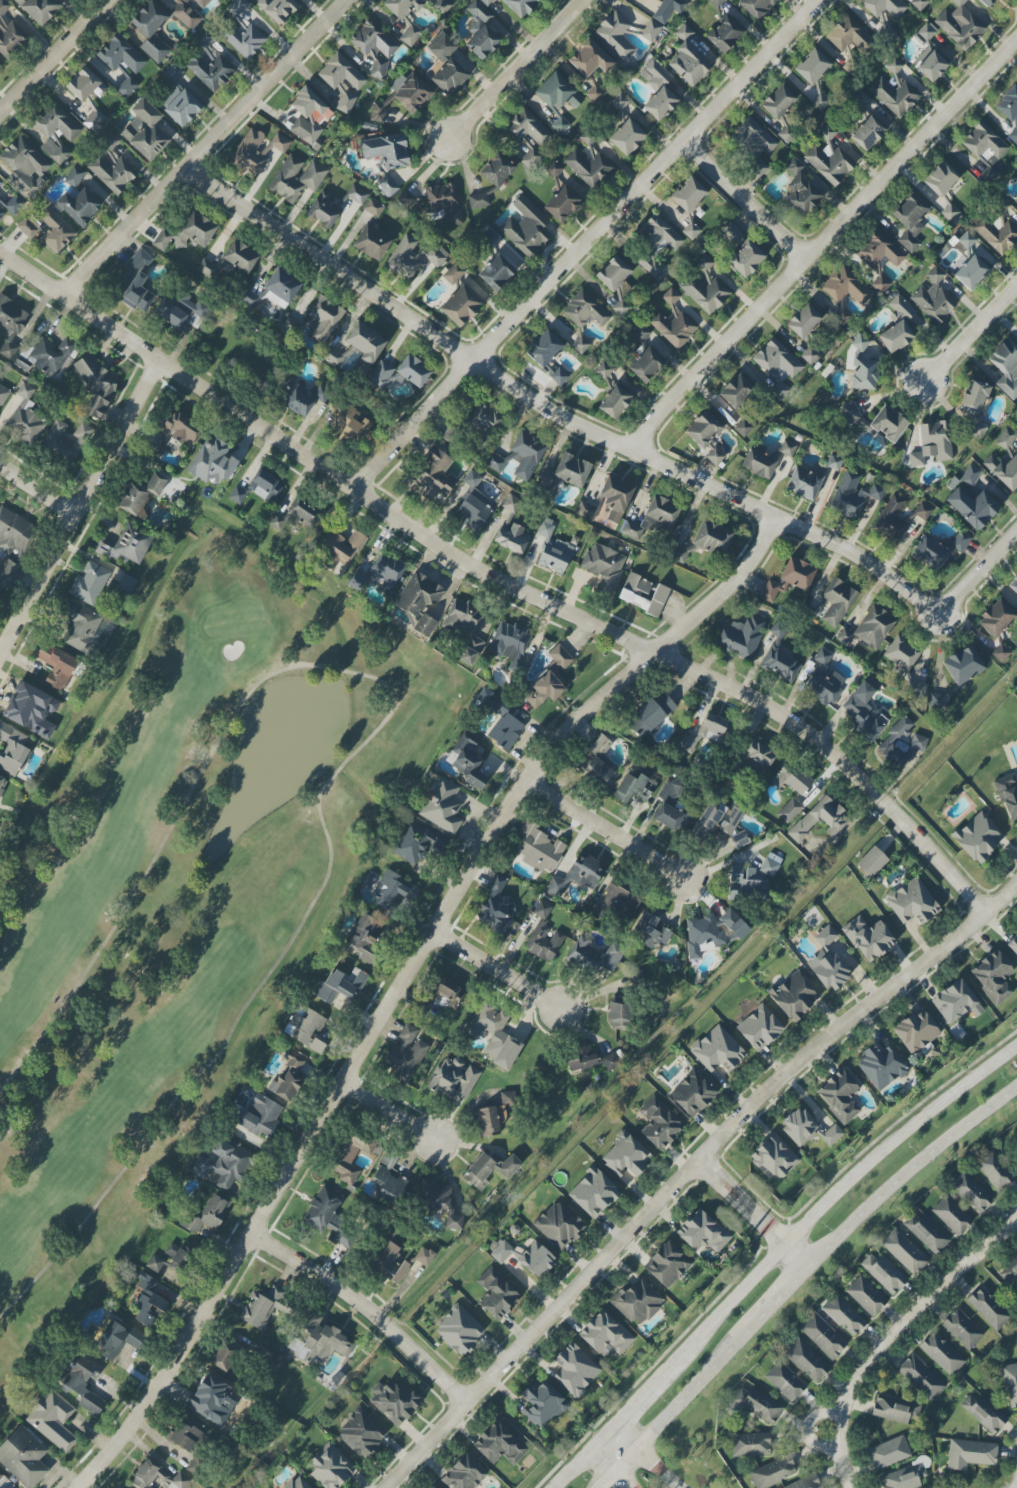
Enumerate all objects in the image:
building: (486, 2)
building: (716, 3)
building: (919, 3)
building: (442, 5)
building: (520, 6)
building: (755, 7)
building: (884, 7)
building: (39, 9)
building: (278, 9)
building: (404, 9)
building: (670, 9)
building: (189, 12)
road: (91, 18)
building: (960, 25)
building: (151, 31)
building: (241, 31)
building: (481, 31)
building: (651, 31)
building: (926, 32)
building: (9, 33)
building: (724, 33)
building: (411, 35)
building: (615, 35)
building: (848, 36)
building: (204, 39)
building: (375, 46)
building: (121, 55)
building: (590, 59)
building: (688, 59)
building: (0, 65)
building: (445, 65)
building: (932, 66)
building: (812, 67)
road: (518, 69)
building: (210, 71)
building: (340, 73)
road: (36, 74)
building: (172, 74)
building: (85, 85)
building: (127, 87)
building: (658, 90)
building: (895, 90)
building: (595, 94)
building: (403, 98)
building: (860, 100)
building: (345, 101)
building: (620, 102)
building: (778, 102)
building: (819, 102)
building: (1008, 106)
building: (183, 108)
building: (307, 116)
building: (94, 120)
building: (526, 128)
building: (145, 131)
building: (56, 132)
building: (868, 133)
building: (627, 137)
building: (280, 143)
building: (752, 143)
road: (205, 147)
building: (985, 149)
building: (387, 150)
building: (249, 154)
building: (829, 158)
building: (531, 159)
building: (588, 165)
building: (25, 167)
building: (112, 167)
building: (497, 169)
building: (554, 169)
building: (313, 174)
building: (74, 177)
building: (941, 179)
building: (386, 185)
building: (800, 190)
building: (357, 194)
building: (689, 195)
building: (478, 200)
building: (444, 202)
road: (744, 202)
building: (13, 204)
building: (562, 204)
building: (79, 206)
building: (373, 207)
building: (323, 210)
building: (1, 213)
building: (952, 214)
building: (910, 222)
building: (526, 227)
building: (47, 229)
building: (691, 231)
building: (186, 233)
building: (730, 233)
building: (486, 236)
building: (997, 236)
building: (966, 240)
road: (824, 241)
building: (371, 243)
building: (655, 243)
road: (584, 244)
building: (240, 257)
building: (432, 258)
building: (746, 259)
building: (453, 273)
building: (496, 273)
building: (613, 273)
building: (971, 273)
building: (138, 282)
building: (705, 286)
building: (282, 287)
building: (846, 287)
building: (934, 298)
building: (248, 299)
building: (621, 305)
building: (461, 306)
building: (180, 311)
building: (841, 316)
building: (324, 319)
building: (803, 321)
building: (673, 322)
building: (897, 325)
building: (290, 329)
road: (972, 332)
building: (641, 333)
building: (860, 344)
building: (365, 345)
building: (547, 355)
building: (50, 357)
building: (332, 357)
building: (645, 365)
building: (777, 366)
building: (1006, 368)
building: (603, 370)
building: (399, 374)
building: (97, 386)
building: (736, 391)
building: (3, 394)
building: (321, 394)
building: (974, 396)
building: (297, 400)
building: (614, 402)
road: (553, 410)
building: (25, 418)
building: (485, 422)
building: (878, 422)
building: (350, 424)
building: (179, 428)
building: (743, 428)
building: (703, 430)
building: (977, 431)
building: (1006, 438)
building: (64, 443)
building: (932, 444)
building: (788, 449)
building: (526, 455)
building: (715, 457)
building: (212, 463)
building: (759, 463)
building: (1003, 471)
building: (563, 474)
building: (970, 476)
building: (436, 477)
building: (810, 479)
building: (265, 486)
road: (37, 491)
building: (853, 495)
building: (141, 496)
building: (614, 498)
building: (473, 504)
building: (972, 507)
road: (77, 510)
building: (586, 511)
building: (301, 515)
building: (653, 518)
building: (898, 519)
building: (510, 530)
building: (13, 532)
building: (712, 538)
building: (960, 542)
building: (125, 546)
building: (343, 547)
building: (553, 548)
road: (440, 549)
building: (929, 553)
building: (677, 554)
building: (604, 566)
road: (982, 568)
building: (386, 571)
building: (7, 573)
building: (789, 579)
building: (89, 583)
building: (127, 584)
building: (1013, 585)
building: (643, 594)
building: (419, 602)
building: (836, 602)
building: (1016, 608)
building: (996, 619)
building: (79, 625)
building: (464, 629)
building: (869, 629)
building: (778, 630)
building: (741, 636)
building: (509, 642)
building: (1001, 653)
building: (901, 654)
building: (780, 665)
building: (963, 665)
building: (56, 666)
building: (516, 667)
building: (550, 679)
building: (824, 679)
building: (915, 690)
building: (938, 701)
building: (864, 711)
building: (650, 714)
building: (503, 718)
building: (715, 727)
building: (903, 742)
building: (687, 745)
building: (13, 750)
road: (359, 751)
building: (756, 756)
building: (467, 761)
building: (599, 762)
building: (791, 779)
building: (2, 784)
building: (634, 784)
building: (1008, 796)
building: (442, 806)
building: (672, 808)
building: (789, 810)
building: (819, 819)
building: (716, 820)
road: (604, 829)
building: (978, 837)
building: (739, 839)
building: (416, 842)
building: (538, 848)
building: (871, 862)
road: (941, 862)
building: (771, 864)
building: (577, 876)
building: (747, 883)
park: (183, 886)
building: (394, 891)
building: (619, 900)
building: (912, 902)
building: (495, 906)
building: (542, 910)
building: (734, 924)
building: (650, 930)
building: (703, 936)
building: (363, 938)
building: (868, 938)
building: (544, 941)
building: (1013, 943)
building: (594, 956)
building: (828, 961)
road: (497, 971)
building: (993, 977)
road: (401, 981)
building: (340, 985)
building: (443, 994)
building: (795, 996)
building: (956, 1002)
building: (619, 1013)
building: (759, 1028)
building: (306, 1030)
building: (916, 1032)
building: (495, 1036)
building: (717, 1050)
building: (405, 1055)
building: (580, 1059)
building: (609, 1062)
building: (881, 1066)
building: (288, 1078)
building: (454, 1079)
building: (692, 1094)
building: (839, 1096)
road: (386, 1112)
building: (261, 1116)
building: (490, 1120)
building: (658, 1123)
building: (807, 1129)
building: (626, 1156)
building: (350, 1157)
building: (773, 1158)
building: (224, 1163)
road: (707, 1168)
building: (489, 1170)
building: (995, 1170)
road: (689, 1171)
building: (389, 1180)
road: (733, 1184)
building: (970, 1192)
building: (593, 1193)
road: (723, 1193)
building: (439, 1202)
road: (743, 1203)
road: (758, 1212)
building: (211, 1215)
building: (327, 1215)
building: (951, 1216)
road: (753, 1217)
building: (559, 1225)
building: (702, 1232)
building: (927, 1233)
road: (788, 1244)
building: (500, 1251)
building: (904, 1251)
road: (773, 1254)
building: (424, 1257)
building: (536, 1260)
building: (172, 1262)
building: (391, 1264)
building: (667, 1265)
road: (798, 1274)
building: (884, 1274)
building: (1011, 1274)
road: (323, 1280)
building: (496, 1294)
building: (866, 1296)
building: (637, 1302)
building: (149, 1303)
building: (260, 1308)
building: (988, 1308)
building: (844, 1315)
building: (962, 1329)
building: (459, 1331)
building: (605, 1335)
building: (823, 1336)
road: (890, 1336)
building: (116, 1340)
building: (325, 1340)
building: (941, 1354)
building: (227, 1355)
building: (266, 1359)
building: (807, 1361)
road: (429, 1367)
building: (575, 1370)
building: (921, 1378)
building: (785, 1381)
building: (84, 1383)
building: (1010, 1384)
building: (208, 1396)
building: (394, 1401)
building: (542, 1404)
building: (758, 1404)
building: (896, 1410)
building: (983, 1412)
building: (52, 1420)
building: (362, 1433)
building: (185, 1436)
building: (751, 1444)
building: (499, 1445)
building: (888, 1453)
building: (970, 1454)
road: (647, 1456)
building: (23, 1457)
building: (330, 1467)
road: (610, 1468)
building: (773, 1472)
building: (464, 1474)
building: (904, 1477)
building: (157, 1478)
building: (4, 1483)
building: (297, 1483)
building: (806, 1483)
building: (433, 1487)

